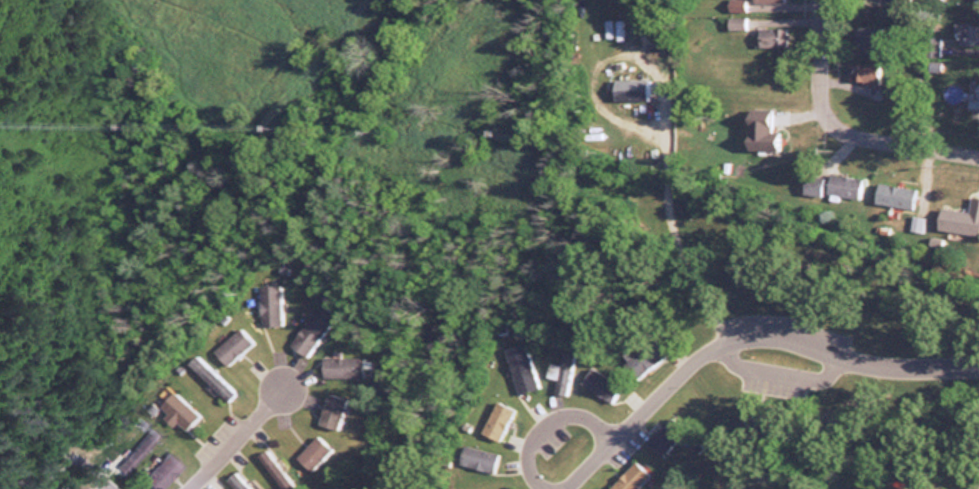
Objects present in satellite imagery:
building: (766, 1)
building: (967, 33)
building: (866, 35)
building: (771, 37)
building: (931, 47)
building: (861, 73)
road: (823, 83)
building: (627, 89)
building: (758, 135)
road: (927, 143)
building: (812, 184)
building: (843, 185)
building: (894, 195)
building: (960, 217)
building: (269, 303)
building: (311, 328)
road: (742, 336)
building: (231, 345)
building: (642, 358)
building: (341, 366)
building: (520, 366)
building: (562, 370)
road: (777, 371)
building: (209, 376)
building: (598, 383)
building: (177, 409)
building: (496, 420)
road: (543, 422)
building: (665, 434)
road: (234, 440)
building: (132, 451)
building: (477, 458)
building: (272, 469)
building: (155, 471)
building: (629, 477)
building: (235, 481)
building: (886, 484)
road: (102, 485)

